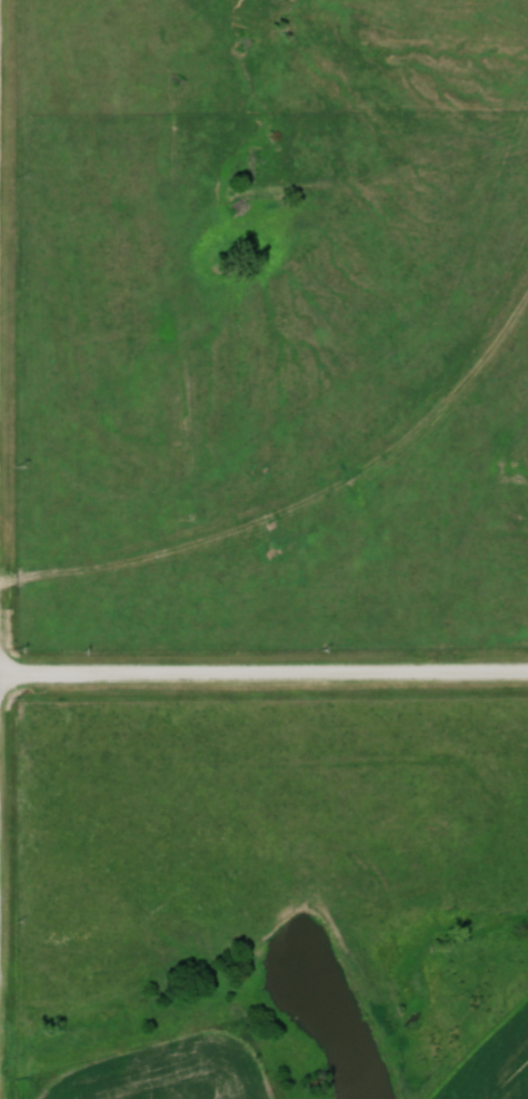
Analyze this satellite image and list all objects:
road: (263, 676)

